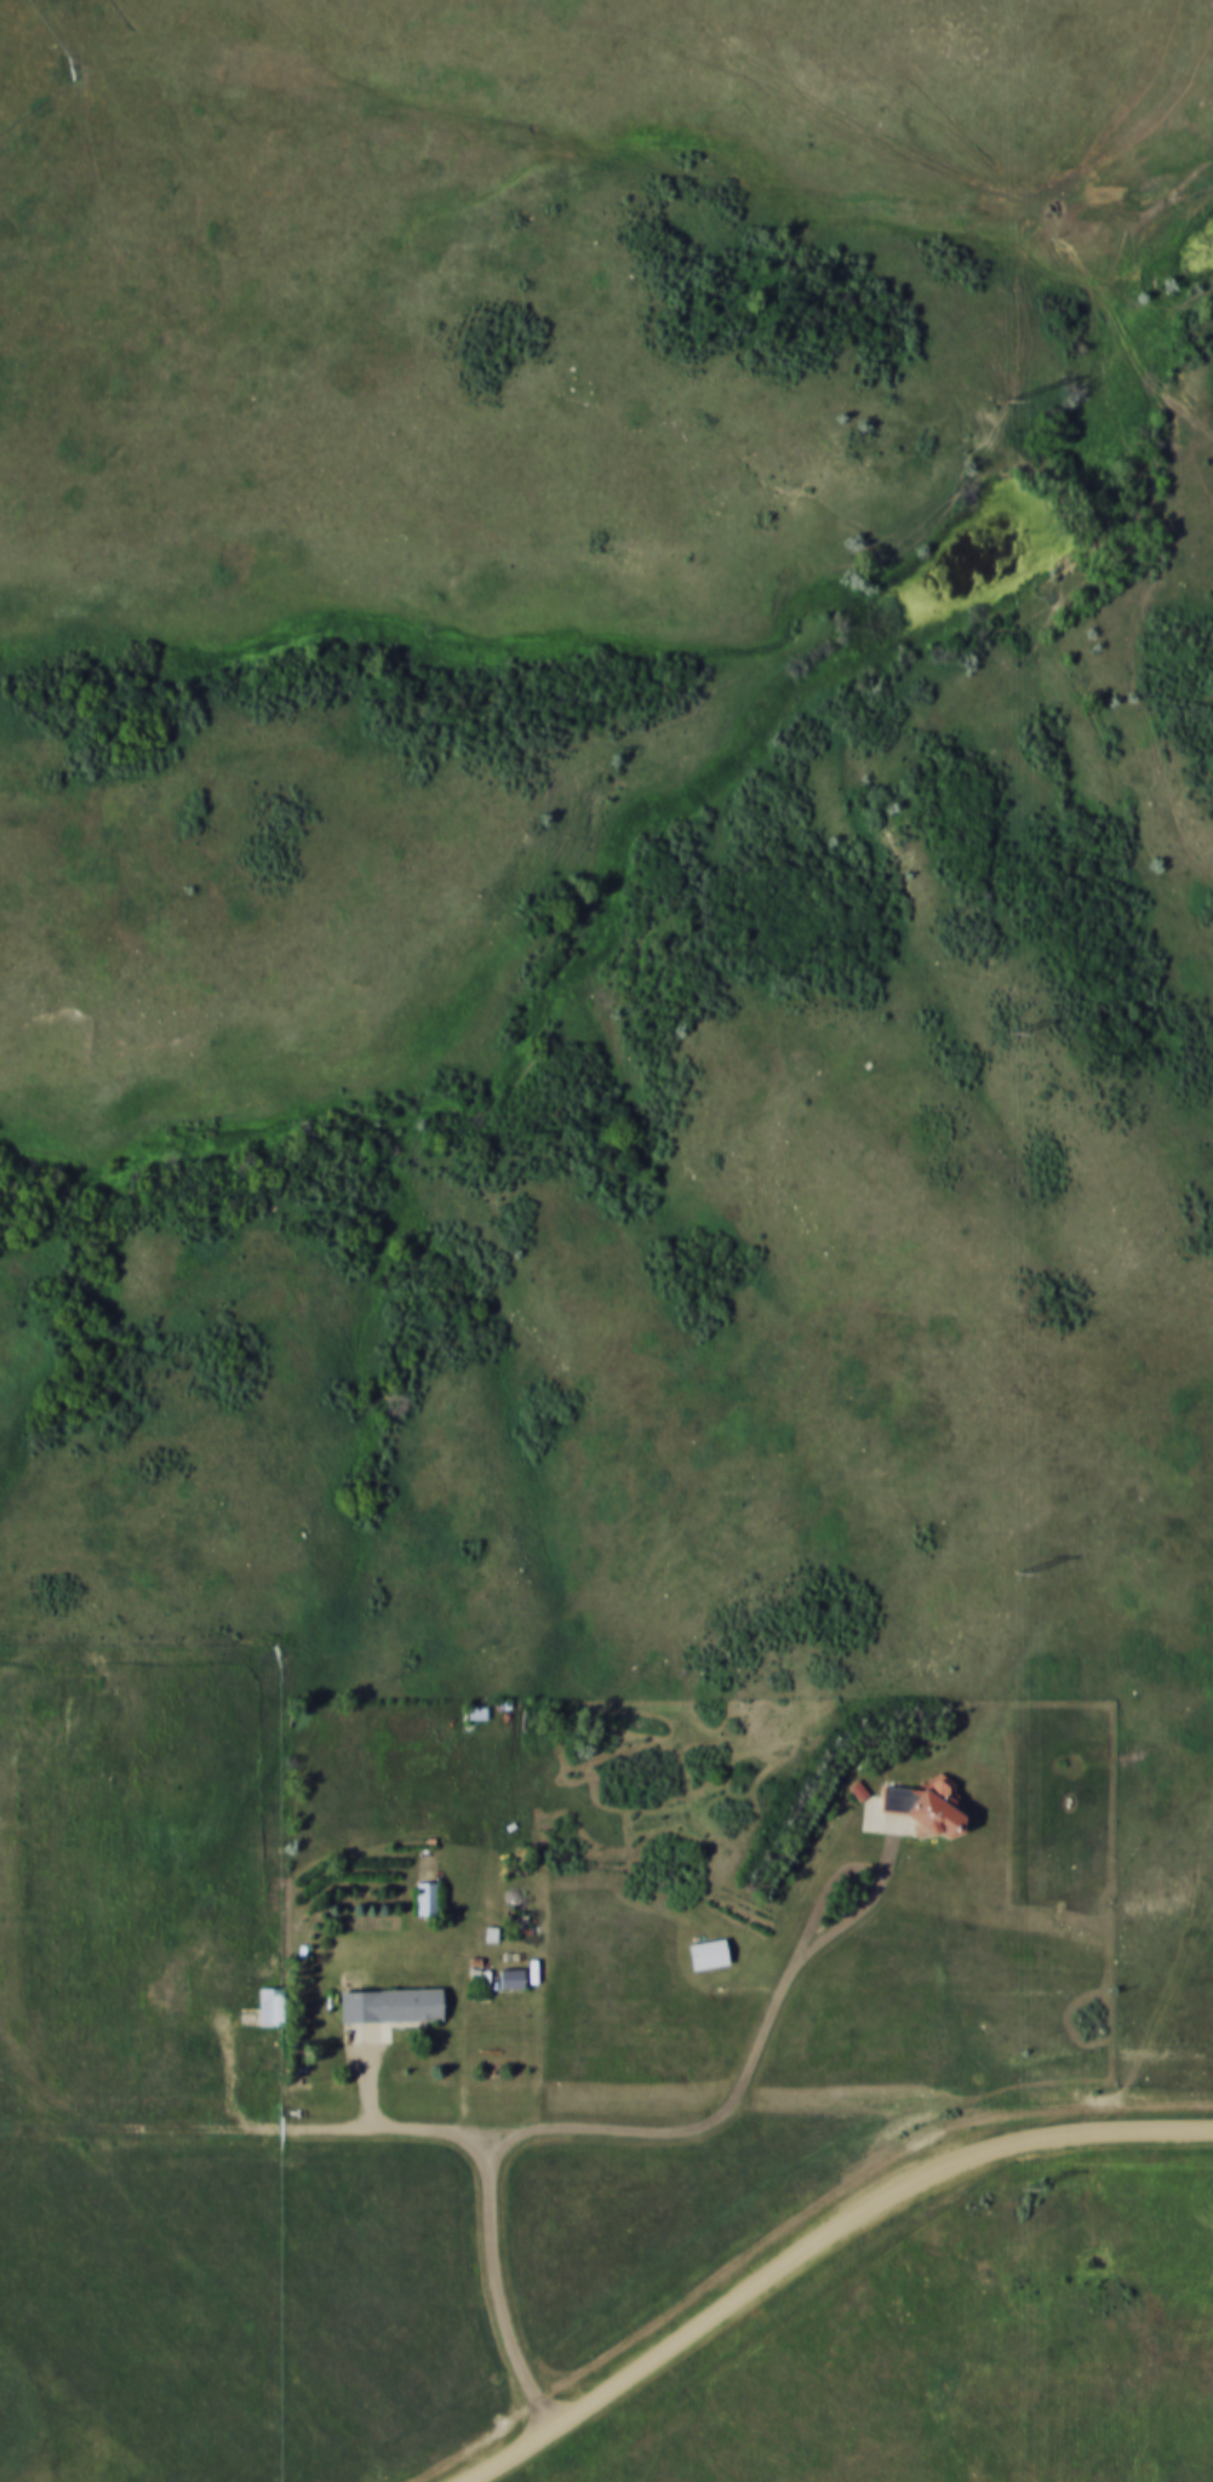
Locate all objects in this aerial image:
power tower: (1017, 402)
power tower: (1022, 1031)
power tower: (1029, 1573)
building: (921, 1803)
road: (836, 1885)
building: (427, 1899)
road: (530, 1951)
building: (706, 1955)
building: (513, 1974)
building: (390, 2006)
building: (270, 2007)
road: (378, 2093)
road: (533, 2132)
power tower: (1040, 2188)
road: (820, 2247)
road: (498, 2286)

